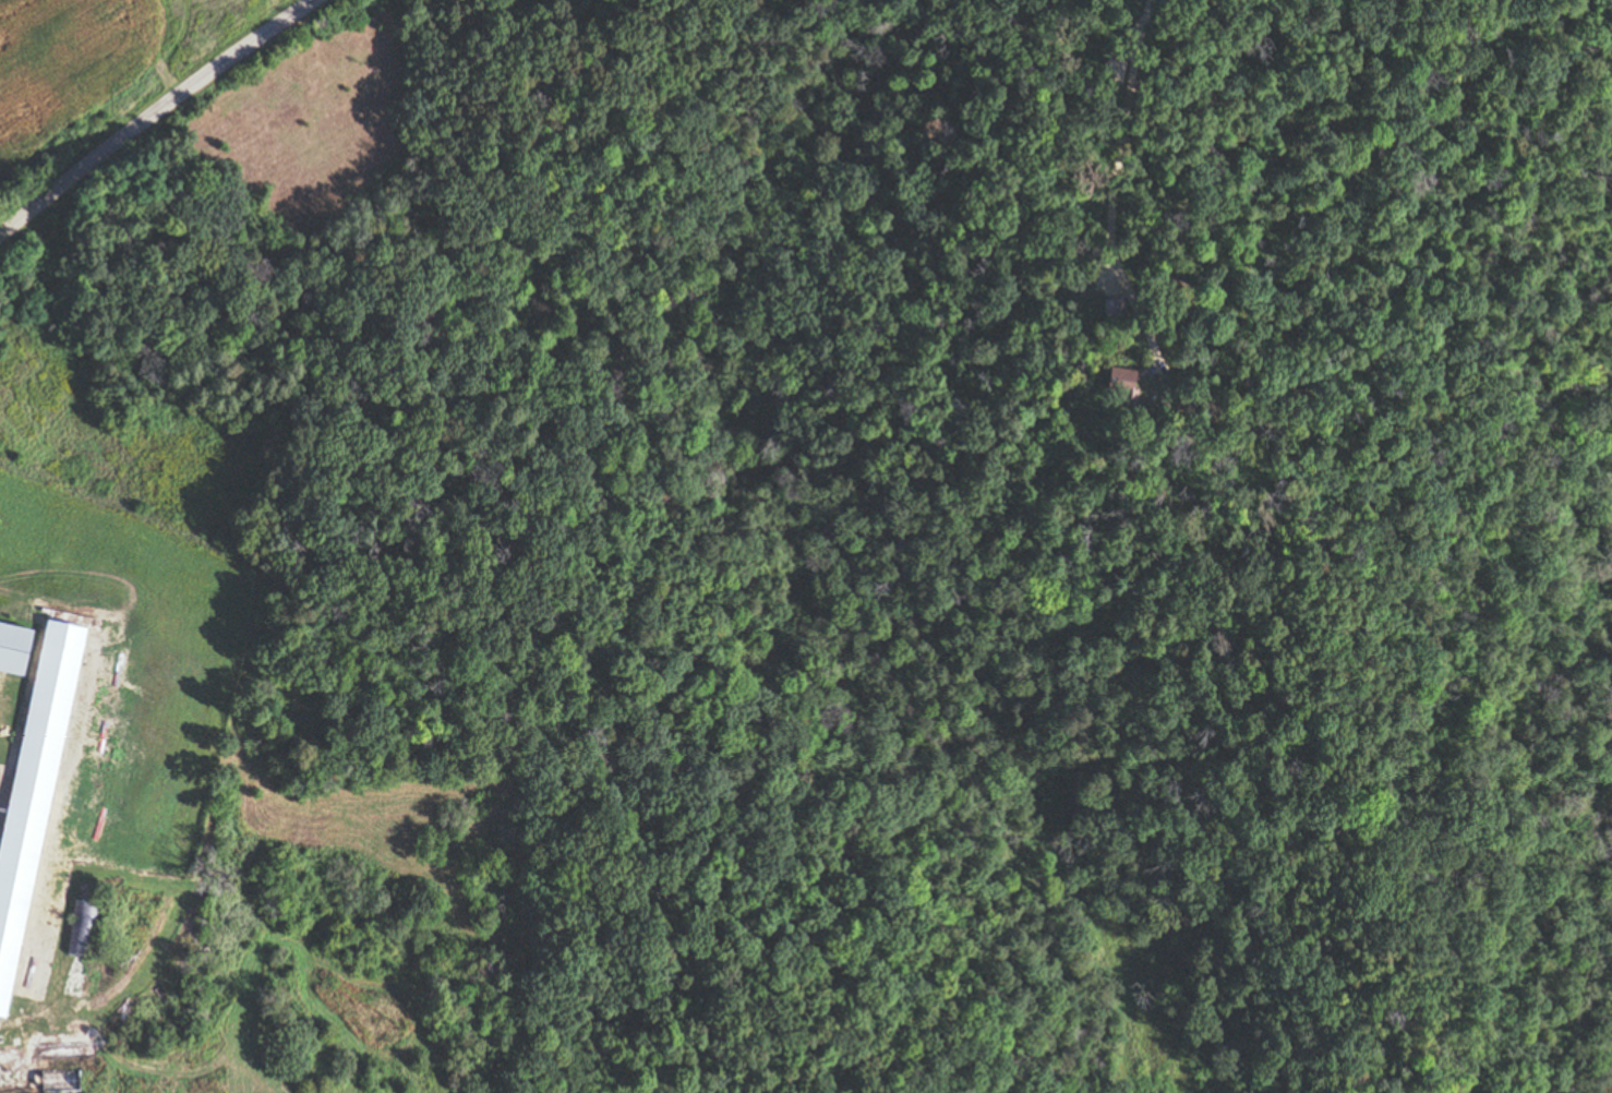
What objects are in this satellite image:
road: (144, 112)
building: (31, 657)
building: (19, 884)
building: (80, 932)
building: (51, 1083)

